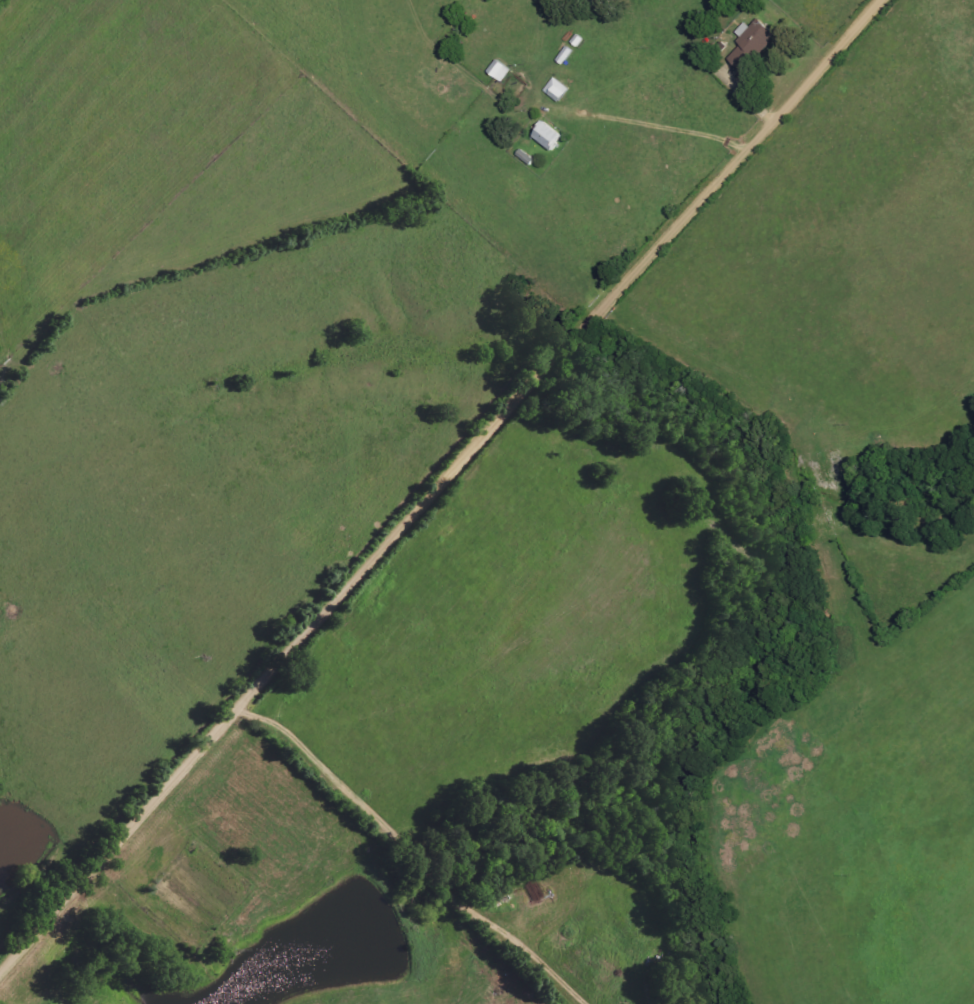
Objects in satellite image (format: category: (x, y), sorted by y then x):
building: (753, 44)
building: (500, 71)
building: (557, 91)
building: (548, 136)
road: (441, 488)
road: (416, 849)

